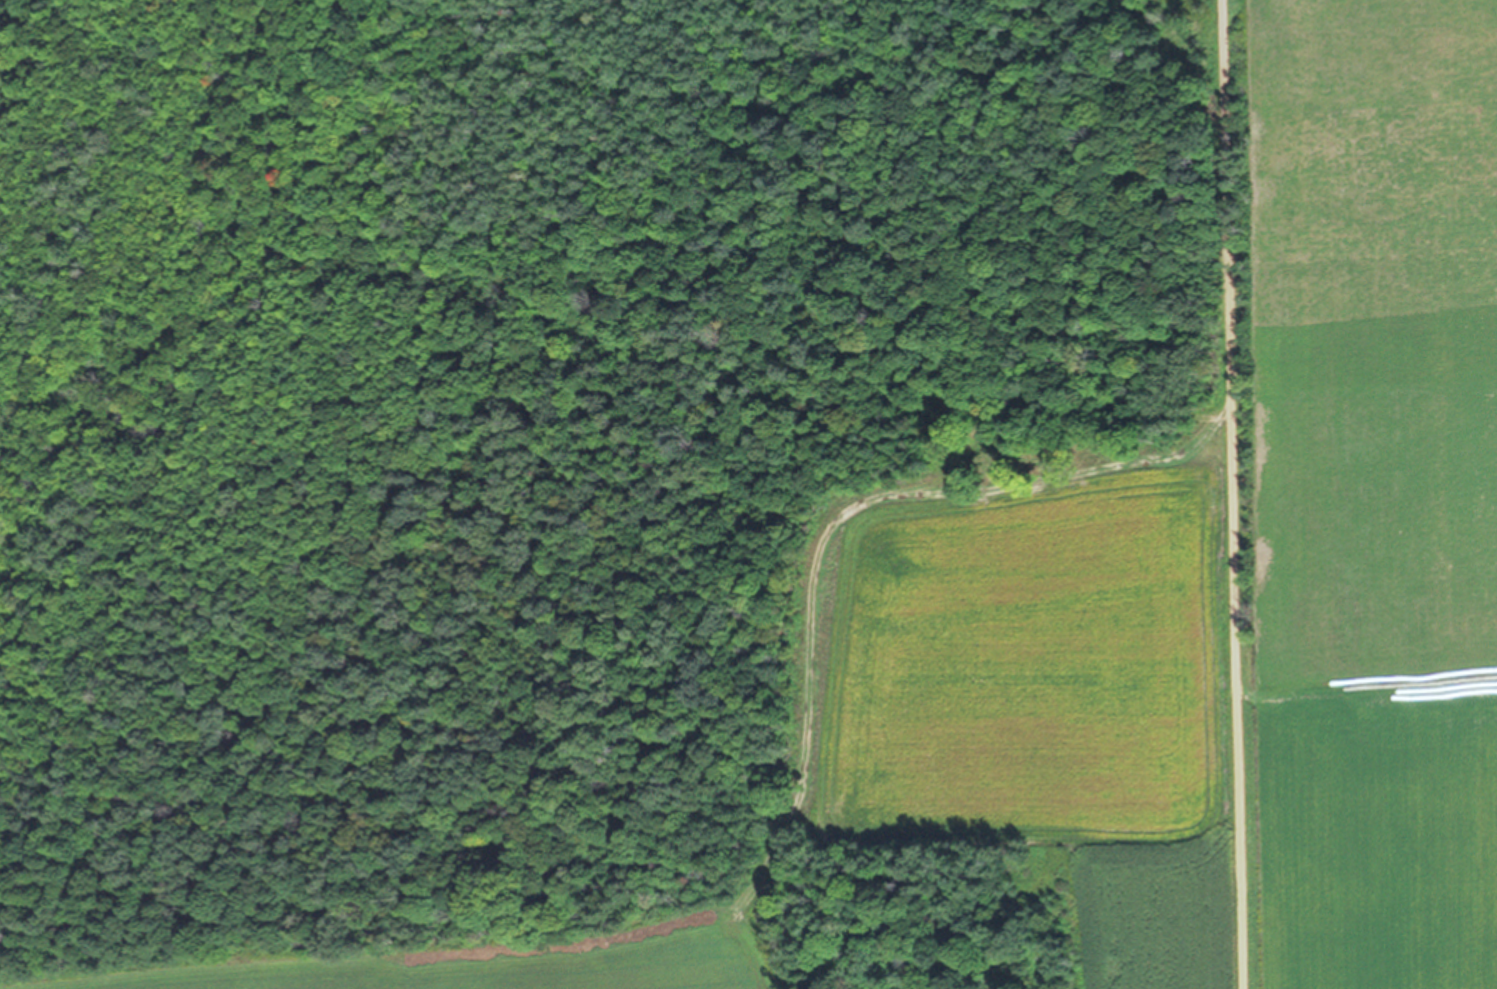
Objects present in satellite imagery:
building: (951, 417)
road: (1235, 494)
crop: (461, 957)

